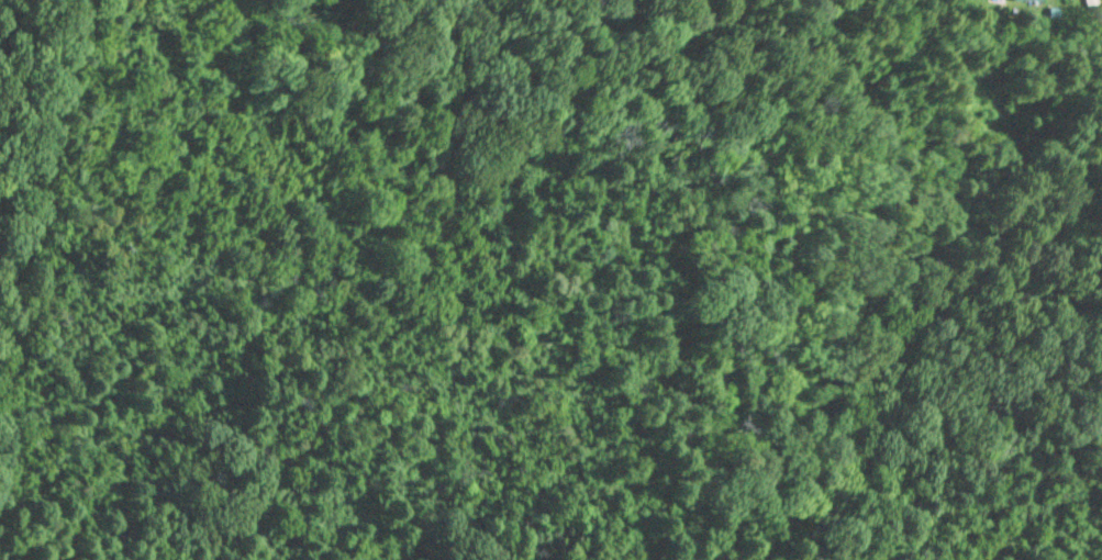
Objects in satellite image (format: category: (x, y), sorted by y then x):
building: (1026, 0)

